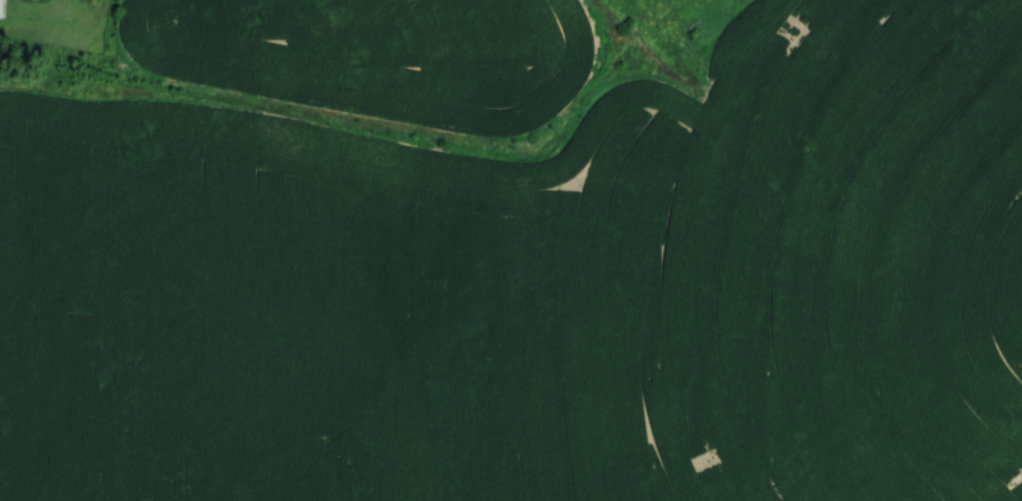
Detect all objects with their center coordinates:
building: (0, 9)

